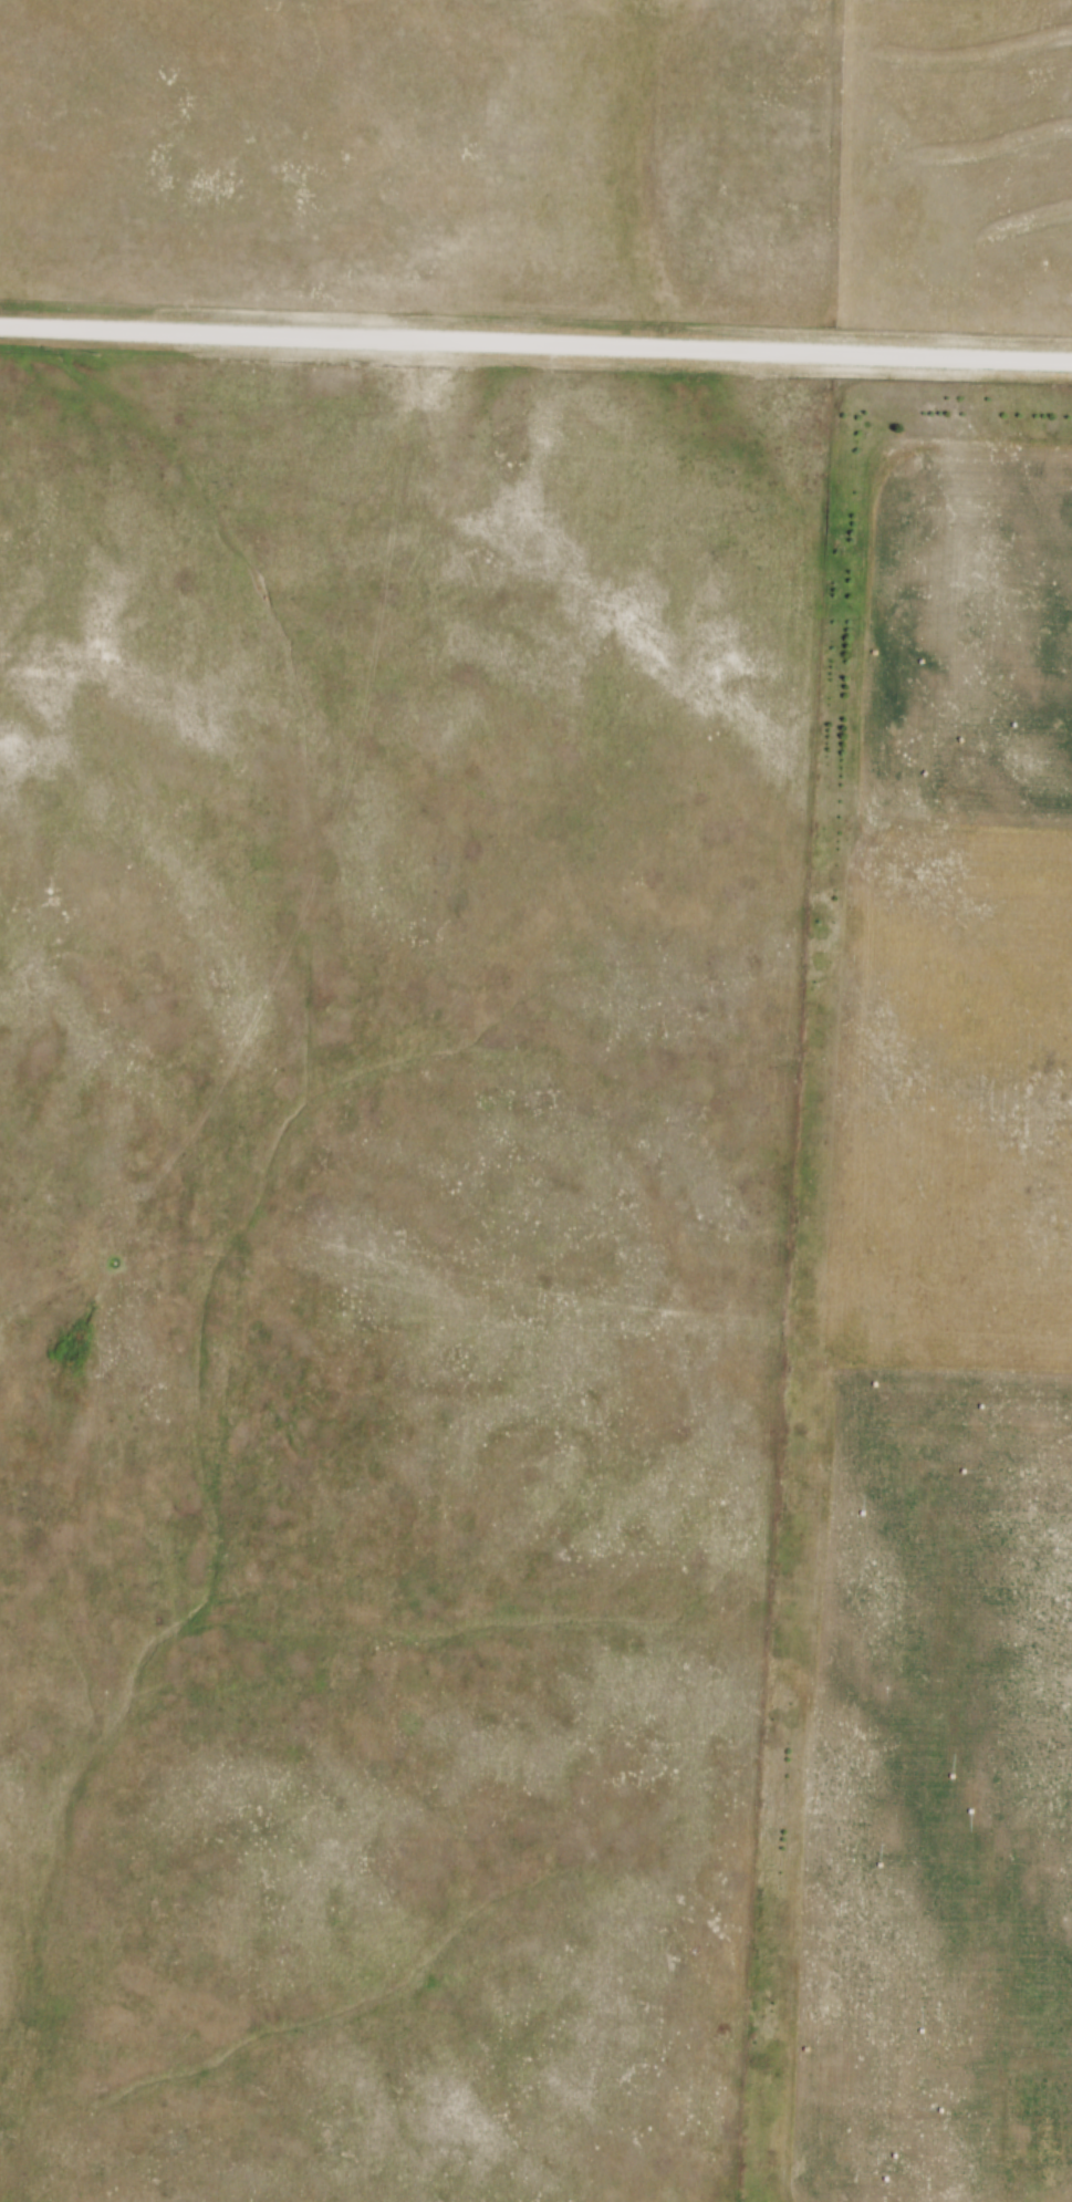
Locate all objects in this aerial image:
road: (535, 341)

